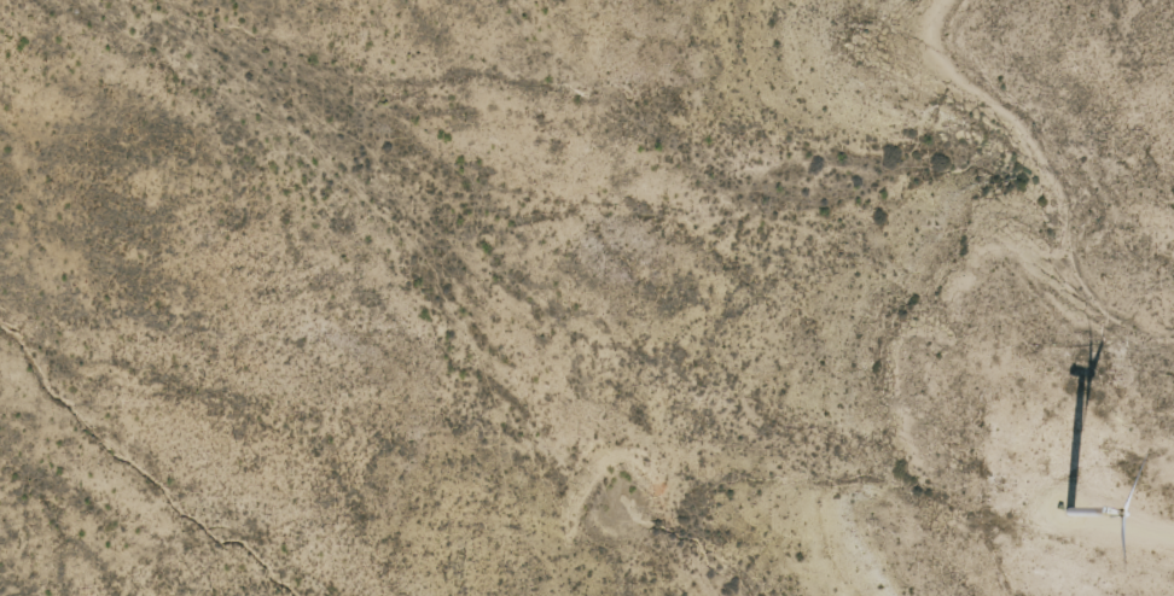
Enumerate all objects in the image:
wind turbine: (1052, 506)

